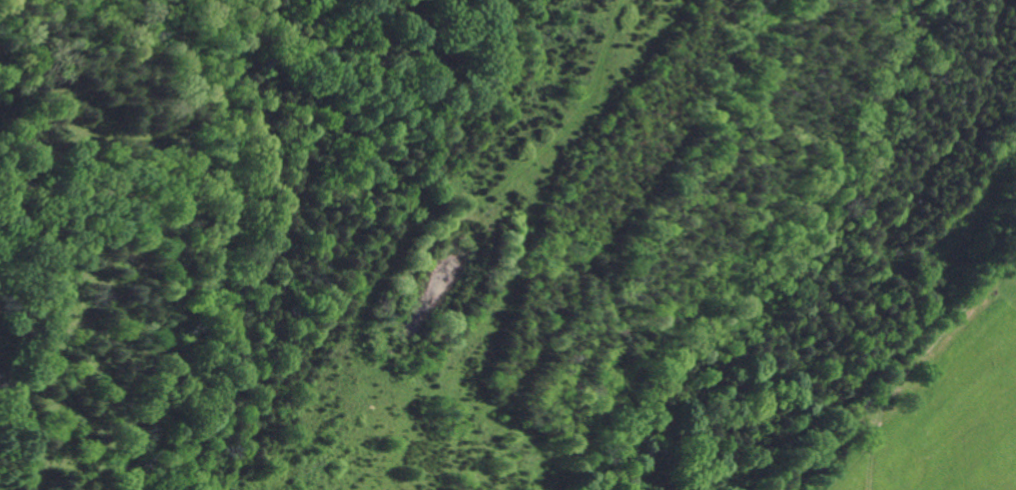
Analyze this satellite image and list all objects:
road: (909, 370)

